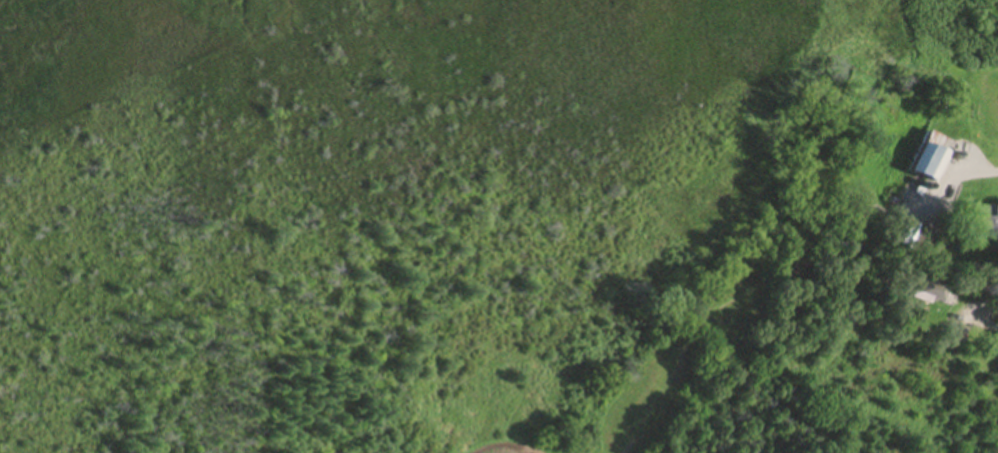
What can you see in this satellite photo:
building: (931, 158)
road: (979, 176)
building: (985, 222)
building: (934, 294)
road: (997, 320)

